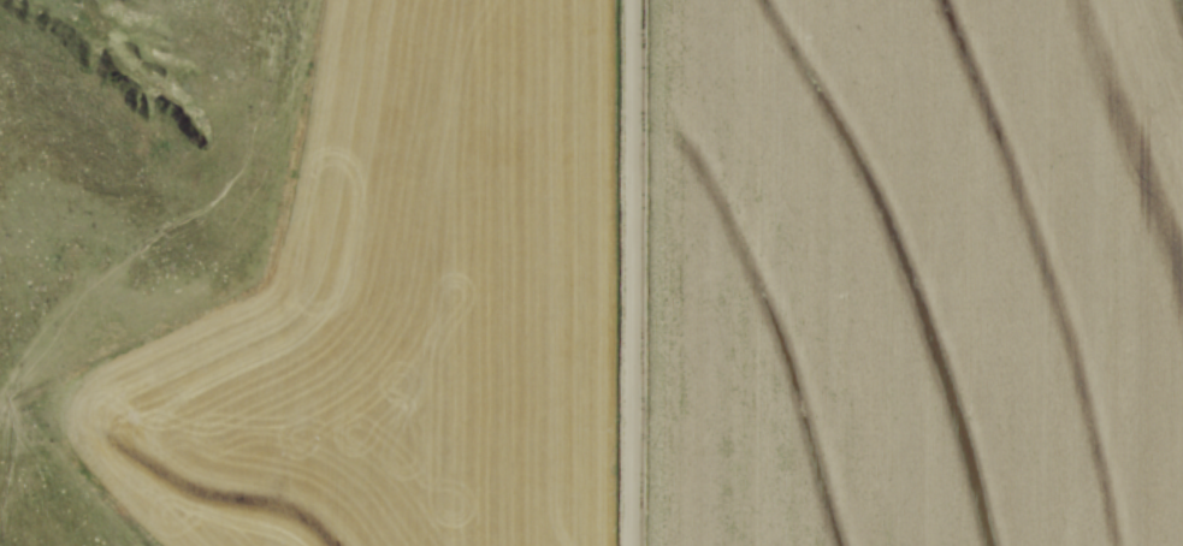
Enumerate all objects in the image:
road: (627, 273)

